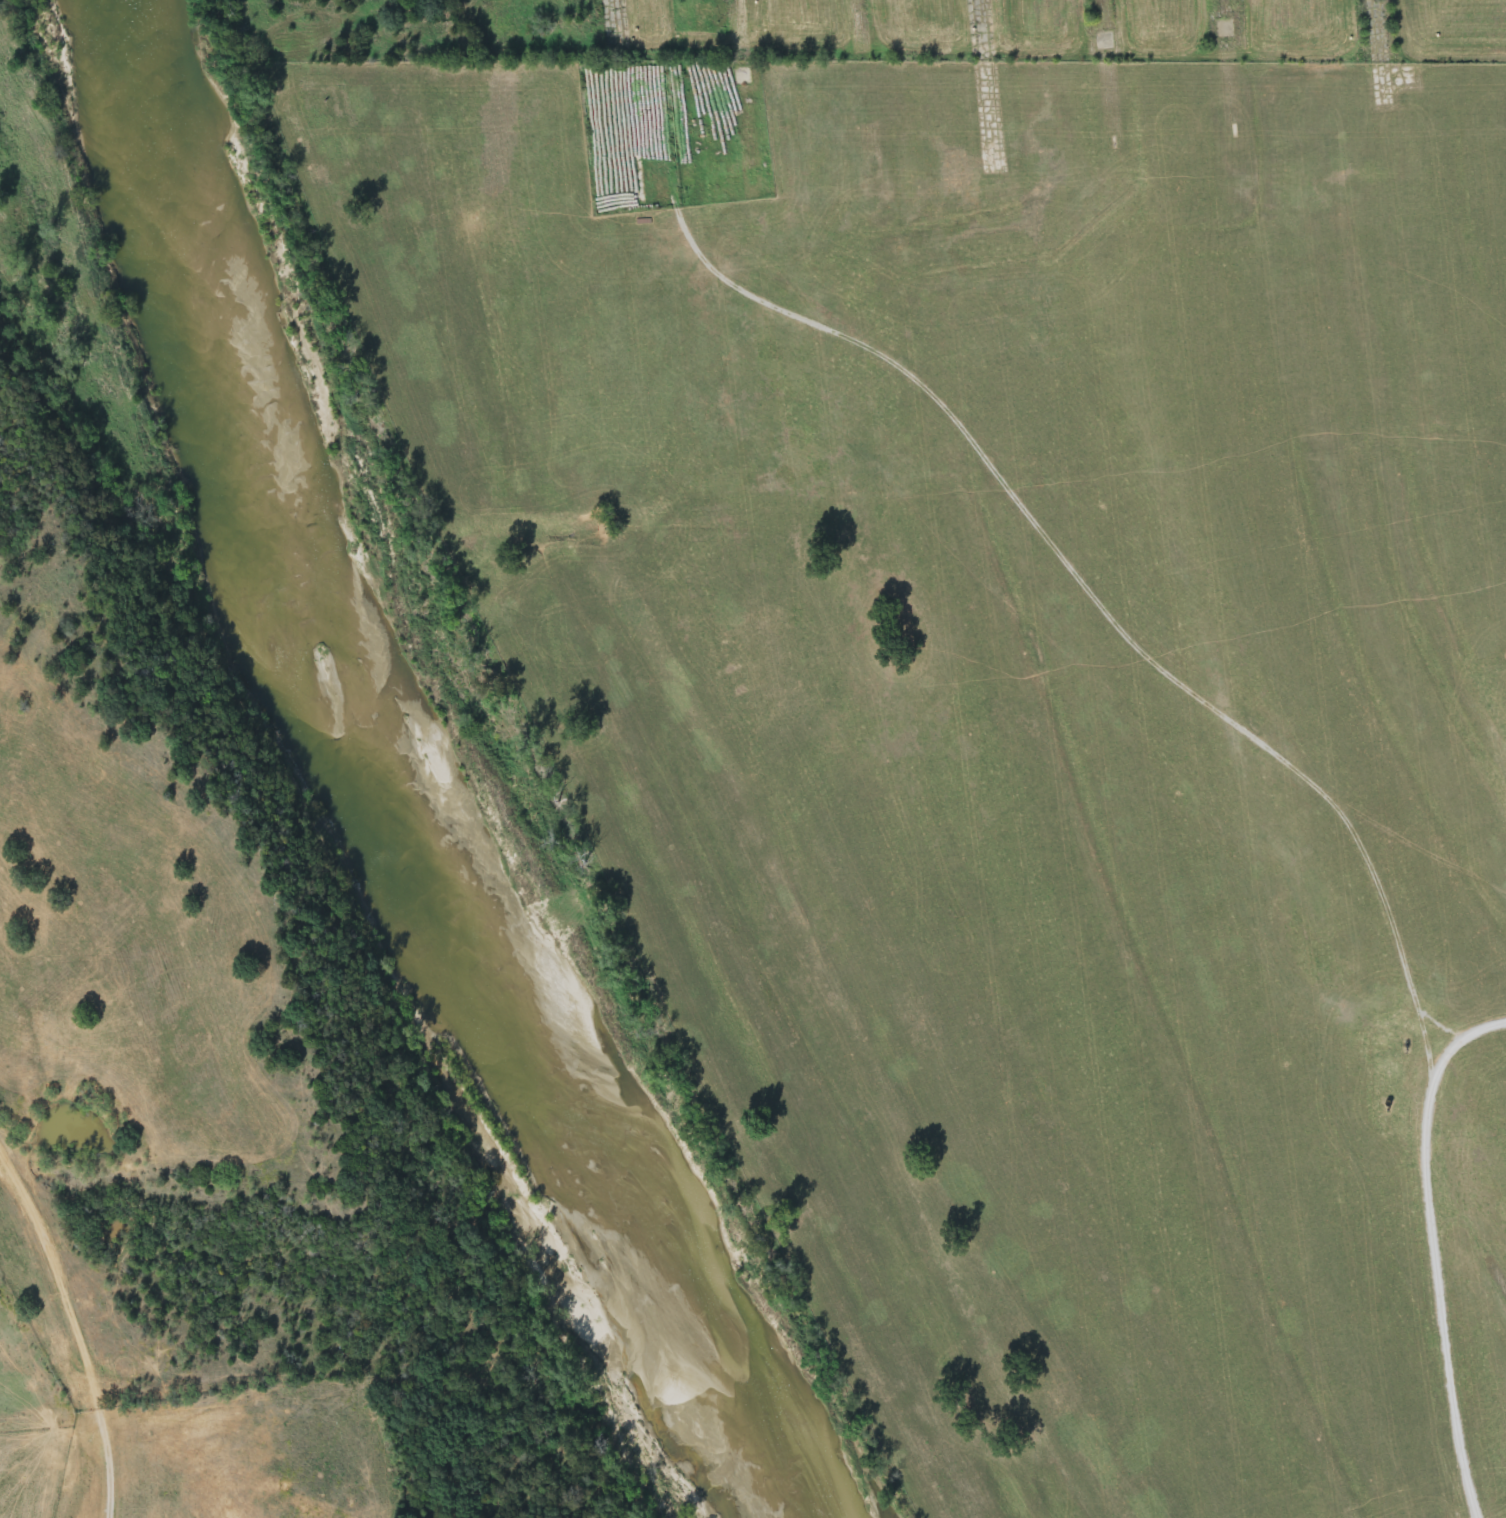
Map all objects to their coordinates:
airport: (914, 101)
river: (337, 811)
road: (70, 1321)

